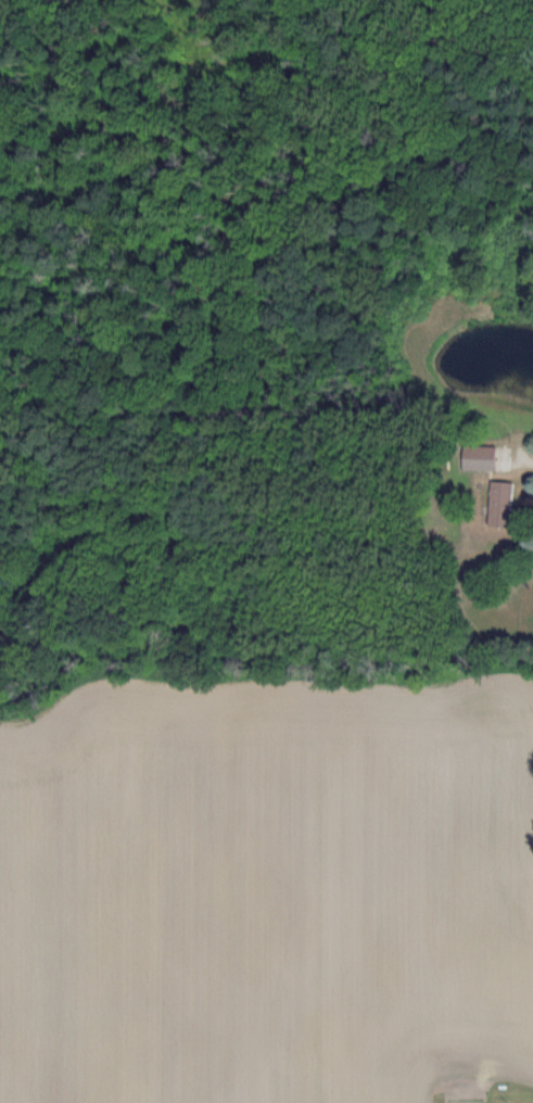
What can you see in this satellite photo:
building: (486, 459)
road: (524, 460)
building: (507, 505)

